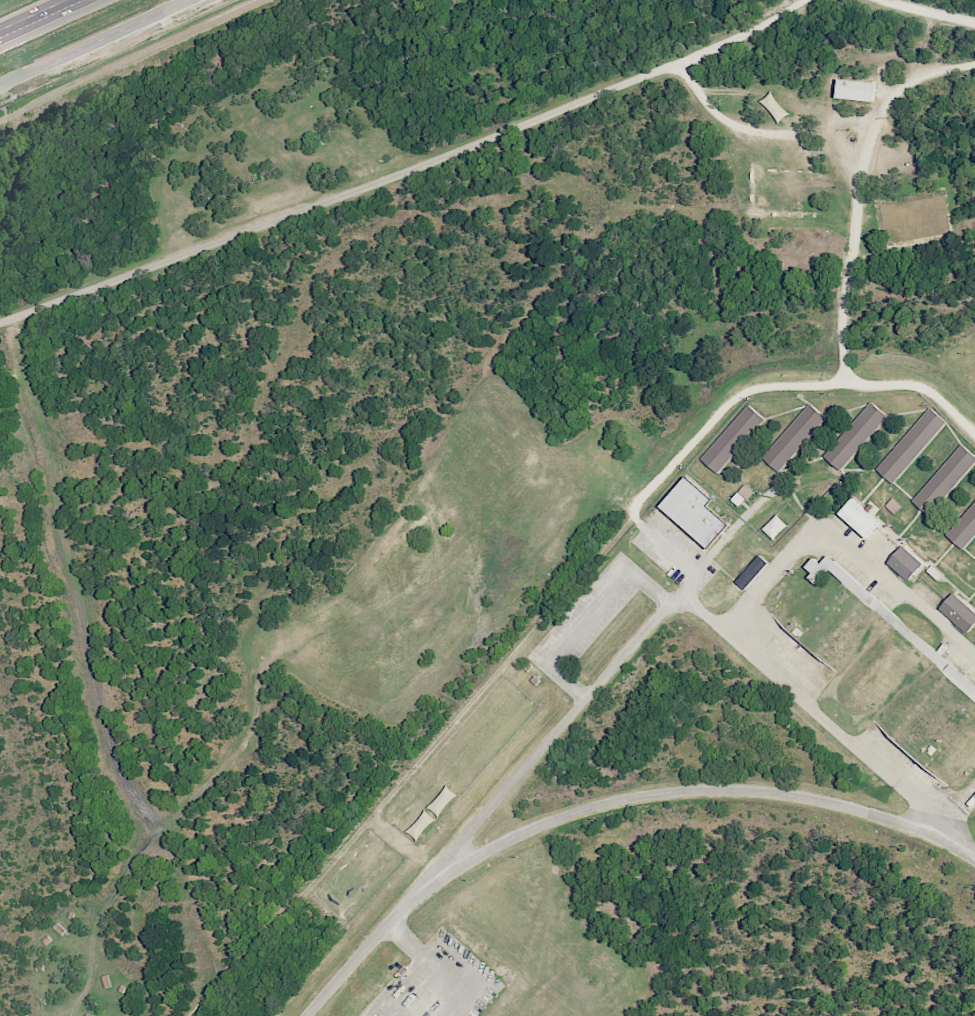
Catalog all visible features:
road: (925, 12)
road: (32, 14)
road: (92, 42)
road: (129, 60)
building: (856, 90)
building: (775, 107)
road: (766, 131)
road: (407, 173)
road: (857, 192)
road: (790, 389)
building: (855, 436)
building: (794, 437)
building: (733, 439)
building: (911, 445)
building: (945, 479)
building: (742, 495)
building: (892, 506)
building: (694, 511)
building: (859, 518)
building: (775, 526)
building: (964, 528)
road: (848, 550)
road: (669, 551)
building: (905, 563)
building: (752, 572)
road: (664, 609)
building: (959, 612)
road: (586, 614)
building: (887, 617)
road: (108, 688)
road: (610, 803)
building: (431, 810)

